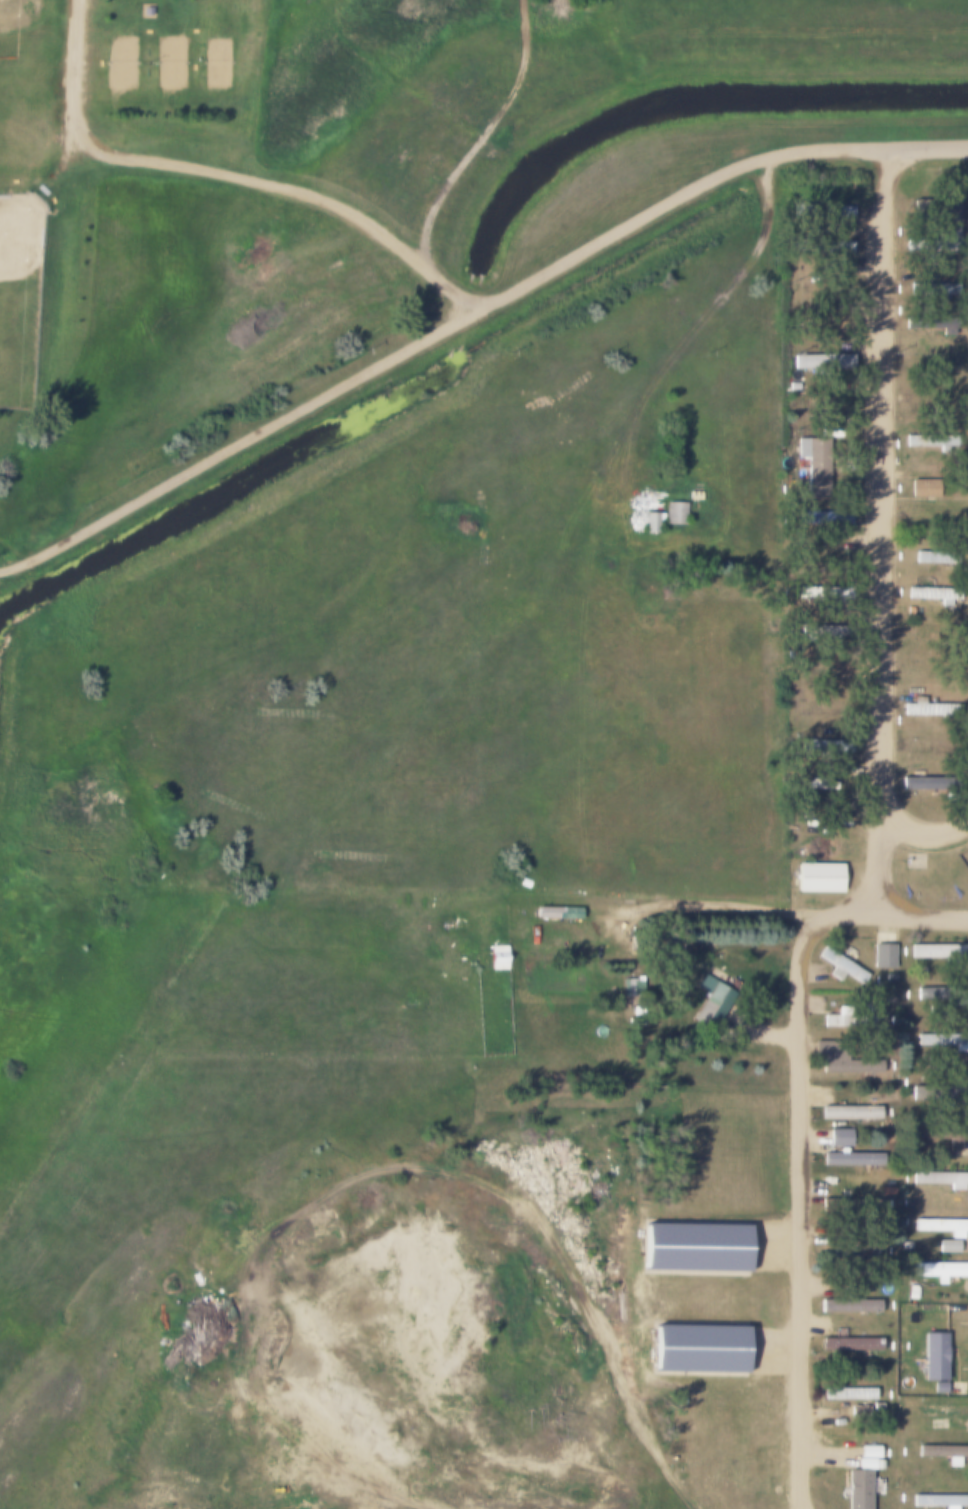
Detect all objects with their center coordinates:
building: (146, 11)
park: (121, 63)
park: (170, 63)
park: (216, 64)
park: (26, 83)
road: (491, 137)
road: (928, 150)
road: (231, 174)
road: (670, 204)
building: (931, 205)
building: (821, 209)
building: (934, 243)
building: (820, 246)
building: (929, 289)
park: (21, 298)
building: (823, 322)
building: (932, 323)
building: (821, 361)
building: (793, 386)
building: (827, 402)
building: (931, 439)
road: (236, 445)
building: (816, 466)
building: (920, 487)
building: (694, 495)
building: (674, 513)
building: (825, 518)
building: (651, 521)
road: (885, 521)
building: (935, 557)
building: (836, 558)
building: (823, 592)
building: (933, 595)
building: (825, 630)
building: (821, 666)
building: (929, 708)
building: (825, 745)
building: (929, 783)
building: (821, 784)
road: (890, 862)
building: (817, 877)
building: (525, 882)
road: (729, 905)
building: (557, 912)
road: (906, 913)
building: (667, 947)
building: (938, 950)
building: (498, 956)
building: (882, 956)
building: (842, 965)
building: (921, 971)
building: (889, 977)
building: (627, 988)
building: (637, 990)
building: (941, 992)
building: (889, 999)
building: (711, 1000)
building: (845, 1018)
building: (943, 1040)
building: (953, 1059)
building: (841, 1060)
building: (939, 1094)
building: (848, 1112)
building: (941, 1134)
building: (839, 1138)
building: (850, 1158)
building: (940, 1178)
building: (885, 1191)
road: (803, 1198)
building: (906, 1203)
building: (852, 1206)
building: (940, 1225)
building: (905, 1245)
building: (947, 1246)
building: (693, 1247)
building: (852, 1247)
building: (939, 1269)
building: (911, 1291)
building: (848, 1305)
quarry: (356, 1330)
road: (619, 1330)
building: (849, 1344)
building: (698, 1349)
building: (933, 1356)
building: (846, 1393)
building: (943, 1410)
building: (868, 1451)
building: (944, 1452)
road: (829, 1460)
road: (383, 1475)
building: (857, 1485)
building: (938, 1500)
road: (802, 1507)

